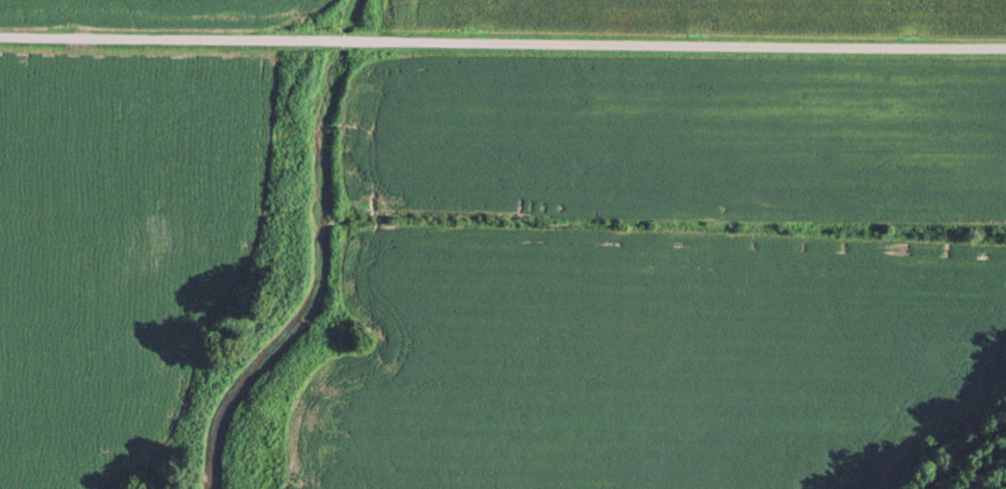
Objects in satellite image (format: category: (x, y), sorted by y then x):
road: (502, 45)

